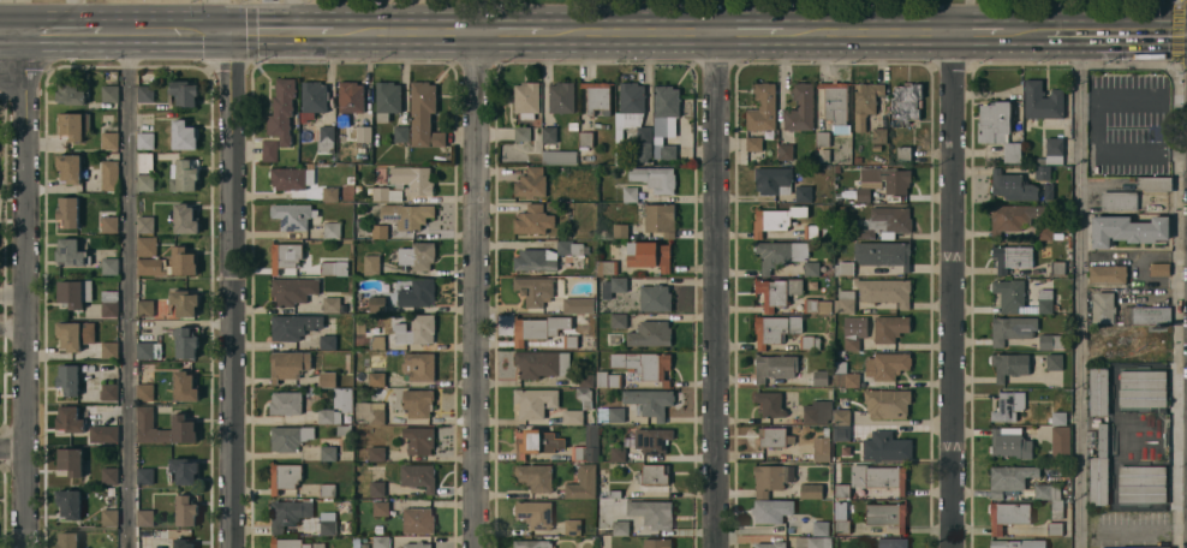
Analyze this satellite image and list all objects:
road: (76, 16)
road: (12, 31)
road: (62, 31)
road: (163, 31)
road: (279, 31)
road: (404, 31)
road: (508, 31)
road: (627, 31)
road: (747, 31)
road: (866, 31)
road: (977, 31)
road: (1025, 31)
road: (1062, 31)
road: (1132, 31)
traffic signals: (227, 32)
road: (12, 78)
building: (68, 90)
building: (107, 91)
building: (144, 91)
building: (183, 91)
building: (312, 95)
building: (351, 97)
building: (561, 97)
building: (597, 97)
building: (525, 99)
building: (387, 100)
building: (1042, 101)
building: (865, 103)
building: (906, 103)
building: (836, 106)
building: (281, 108)
building: (762, 108)
building: (800, 108)
building: (423, 115)
building: (664, 120)
building: (632, 121)
building: (71, 123)
building: (995, 123)
building: (572, 126)
building: (183, 133)
building: (364, 133)
building: (401, 133)
building: (521, 133)
building: (549, 135)
building: (879, 136)
building: (108, 138)
building: (143, 138)
building: (324, 139)
building: (822, 139)
building: (753, 143)
building: (585, 147)
building: (268, 148)
building: (876, 148)
building: (785, 151)
building: (1012, 151)
building: (1052, 151)
building: (903, 153)
building: (559, 157)
building: (857, 160)
building: (144, 161)
building: (68, 166)
building: (836, 168)
building: (1043, 172)
building: (108, 173)
building: (181, 173)
building: (290, 175)
building: (412, 179)
building: (655, 179)
building: (143, 180)
building: (773, 180)
building: (530, 184)
building: (1155, 184)
building: (897, 185)
building: (1012, 185)
building: (1048, 191)
building: (329, 193)
building: (384, 193)
building: (630, 193)
building: (803, 193)
building: (837, 196)
building: (1119, 201)
building: (841, 208)
building: (67, 209)
building: (292, 214)
building: (407, 214)
building: (183, 216)
building: (1014, 216)
building: (1064, 218)
building: (661, 219)
building: (776, 219)
building: (532, 220)
building: (143, 222)
building: (882, 222)
building: (109, 224)
building: (330, 230)
building: (1127, 230)
building: (378, 231)
building: (620, 231)
building: (811, 232)
building: (1046, 232)
building: (144, 244)
building: (68, 250)
building: (284, 254)
building: (780, 254)
building: (883, 254)
building: (416, 255)
building: (649, 255)
building: (547, 256)
building: (1012, 257)
building: (181, 258)
building: (108, 264)
building: (150, 264)
building: (370, 264)
building: (334, 268)
building: (606, 268)
building: (811, 268)
building: (1057, 268)
building: (1159, 268)
building: (843, 269)
building: (1107, 274)
building: (613, 286)
road: (23, 288)
building: (291, 288)
road: (127, 290)
road: (227, 290)
road: (476, 290)
building: (535, 290)
road: (716, 290)
road: (950, 290)
road: (1076, 290)
road: (11, 291)
building: (73, 291)
building: (884, 291)
building: (775, 292)
building: (417, 293)
building: (655, 298)
building: (1020, 298)
building: (183, 300)
building: (108, 302)
building: (845, 302)
building: (330, 304)
building: (376, 304)
building: (578, 305)
building: (147, 306)
building: (817, 306)
building: (1103, 308)
building: (1146, 315)
building: (618, 320)
building: (292, 324)
building: (360, 327)
building: (538, 328)
building: (890, 328)
building: (1013, 328)
road: (11, 329)
building: (775, 329)
building: (417, 330)
building: (73, 333)
building: (650, 334)
building: (1155, 335)
building: (614, 339)
building: (184, 340)
building: (327, 341)
building: (375, 341)
building: (569, 341)
building: (1050, 341)
building: (809, 342)
building: (852, 342)
building: (147, 347)
building: (108, 349)
building: (1153, 350)
building: (1100, 357)
building: (1115, 357)
building: (1132, 357)
building: (1054, 362)
building: (287, 363)
building: (542, 363)
building: (644, 364)
building: (418, 365)
building: (887, 365)
building: (1009, 365)
building: (775, 367)
building: (66, 377)
building: (845, 377)
building: (328, 379)
building: (821, 379)
building: (376, 380)
building: (586, 380)
building: (608, 380)
building: (183, 385)
building: (1141, 388)
building: (107, 391)
building: (143, 391)
building: (1097, 391)
building: (584, 397)
building: (342, 399)
building: (284, 401)
building: (650, 401)
building: (417, 403)
building: (533, 403)
building: (770, 404)
building: (887, 404)
building: (1008, 405)
building: (370, 412)
building: (817, 412)
building: (610, 415)
building: (328, 416)
building: (68, 417)
building: (572, 417)
building: (1058, 418)
building: (184, 423)
building: (841, 425)
building: (101, 430)
building: (344, 430)
building: (288, 436)
building: (774, 437)
building: (418, 440)
building: (652, 440)
building: (536, 442)
building: (1060, 442)
building: (1009, 445)
building: (587, 446)
building: (885, 447)
road: (11, 451)
building: (327, 453)
building: (376, 453)
building: (822, 453)
building: (618, 454)
building: (68, 459)
building: (183, 469)
building: (108, 473)
building: (143, 473)
building: (284, 475)
building: (654, 475)
building: (418, 476)
building: (535, 477)
building: (878, 477)
building: (771, 478)
building: (1009, 478)
building: (583, 483)
building: (1141, 483)
building: (376, 488)
building: (327, 490)
building: (841, 490)
building: (112, 492)
building: (811, 492)
building: (410, 494)
building: (613, 494)
building: (1050, 498)
building: (67, 501)
building: (184, 508)
building: (380, 508)
building: (840, 510)
building: (771, 511)
building: (287, 512)
building: (652, 513)
building: (535, 514)
building: (885, 514)
building: (108, 516)
building: (1008, 516)
building: (143, 517)
building: (417, 520)
building: (327, 524)
building: (572, 526)
building: (842, 526)
building: (378, 528)
building: (620, 528)
building: (821, 528)
building: (1055, 529)
building: (65, 540)
building: (181, 542)
building: (293, 542)
building: (380, 542)
building: (813, 542)
building: (657, 543)
building: (893, 543)
building: (1016, 543)
building: (417, 544)
building: (532, 544)
building: (770, 544)
building: (364, 546)
building: (1133, 547)

